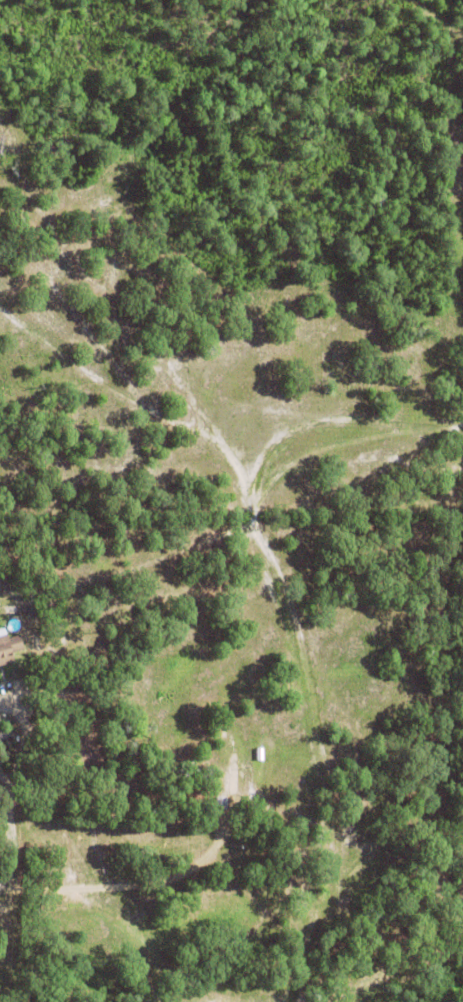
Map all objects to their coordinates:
building: (8, 649)
road: (21, 741)
road: (4, 794)
road: (12, 844)
road: (126, 886)

